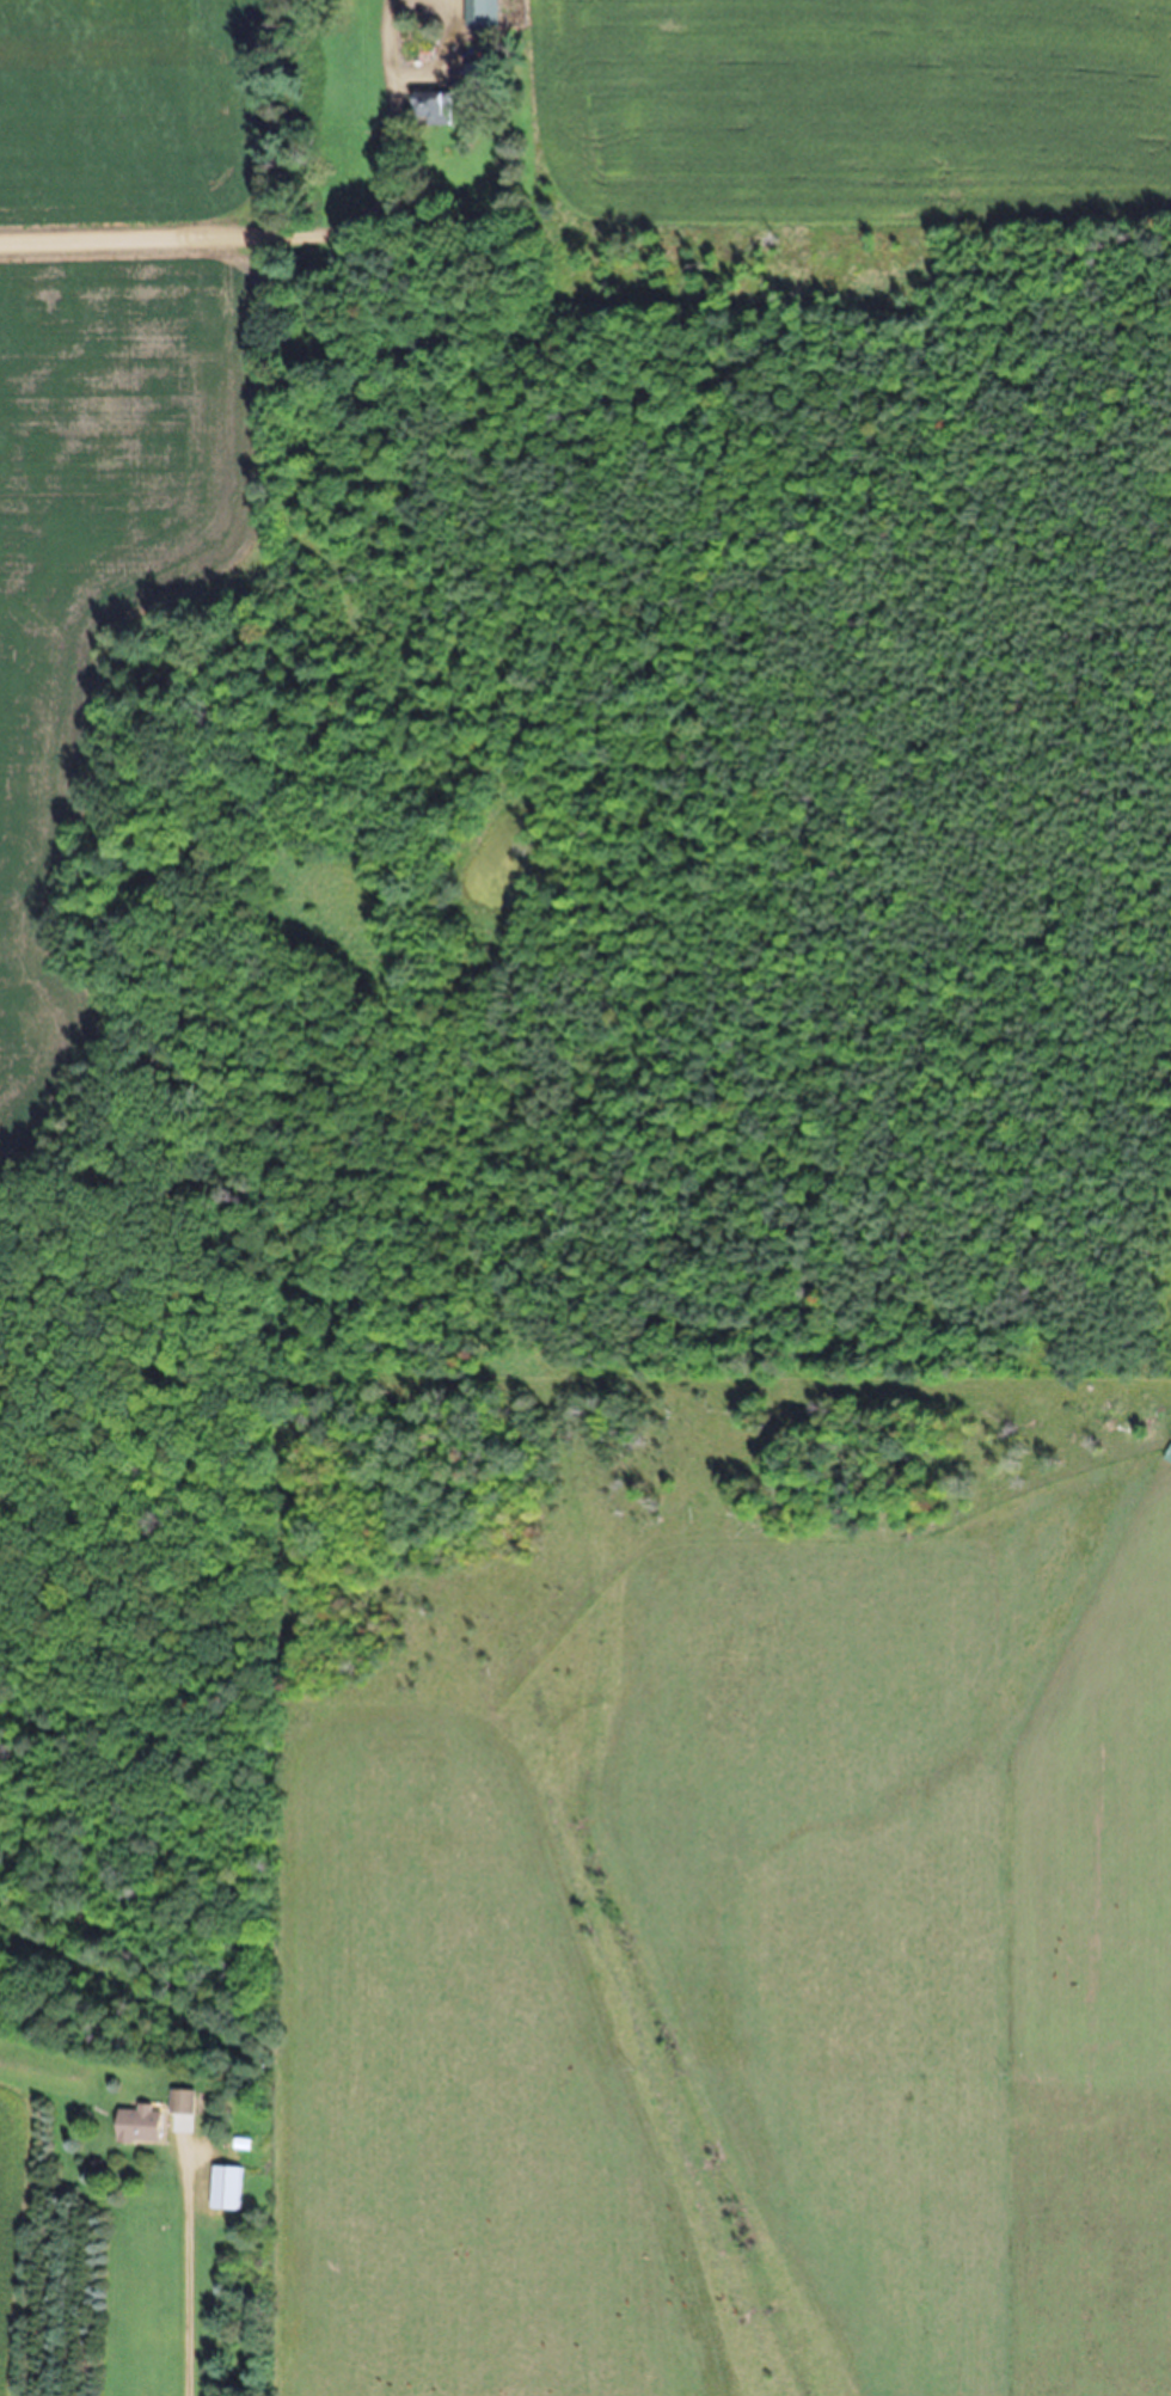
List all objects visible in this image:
building: (434, 108)
road: (209, 237)
building: (183, 2101)
building: (137, 2124)
building: (225, 2186)

